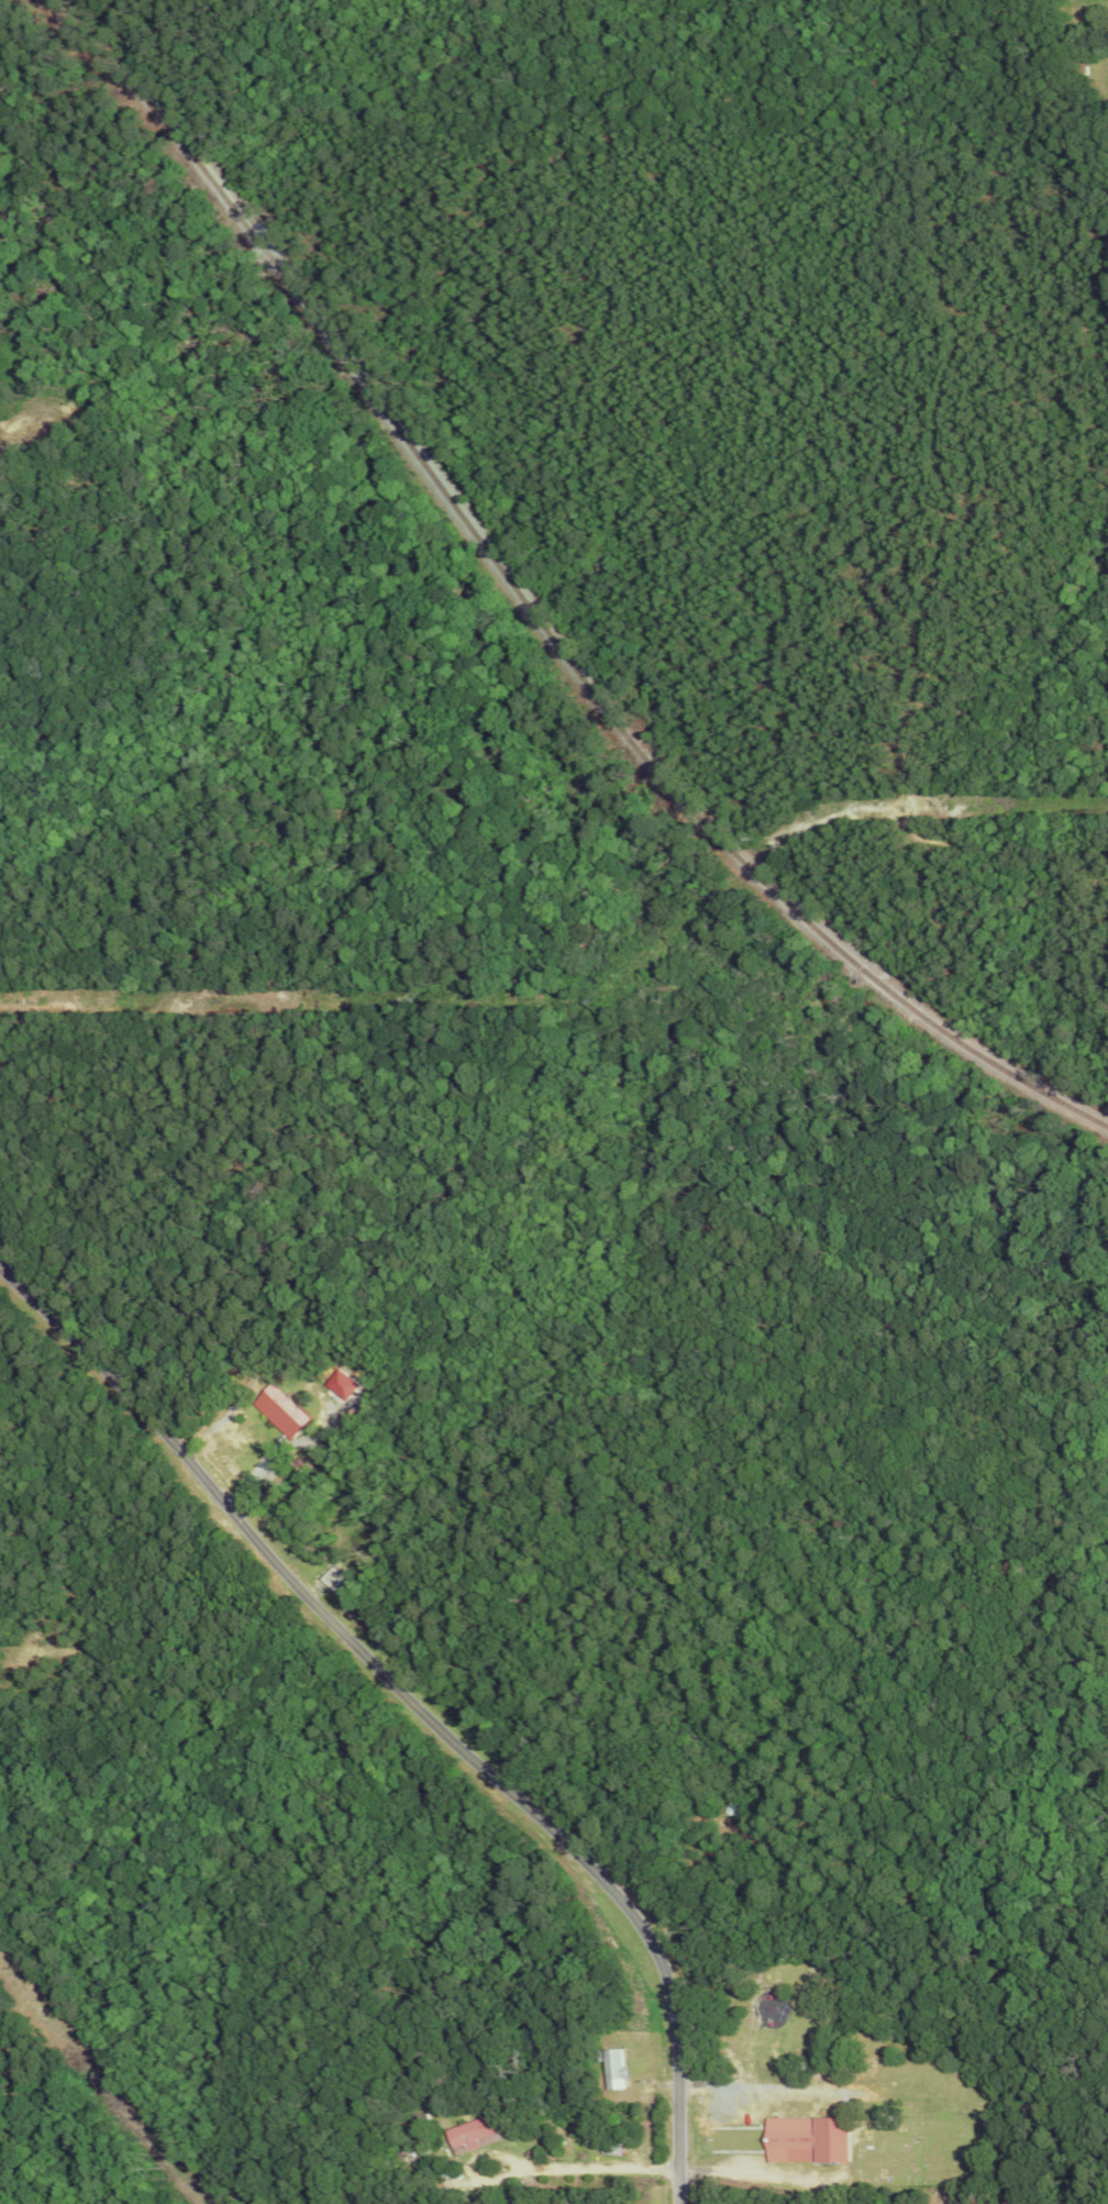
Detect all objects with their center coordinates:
railway: (534, 606)
building: (342, 1384)
building: (280, 1410)
road: (417, 1703)
building: (609, 2069)
park: (920, 2116)
building: (470, 2134)
building: (802, 2136)
road: (576, 2166)

